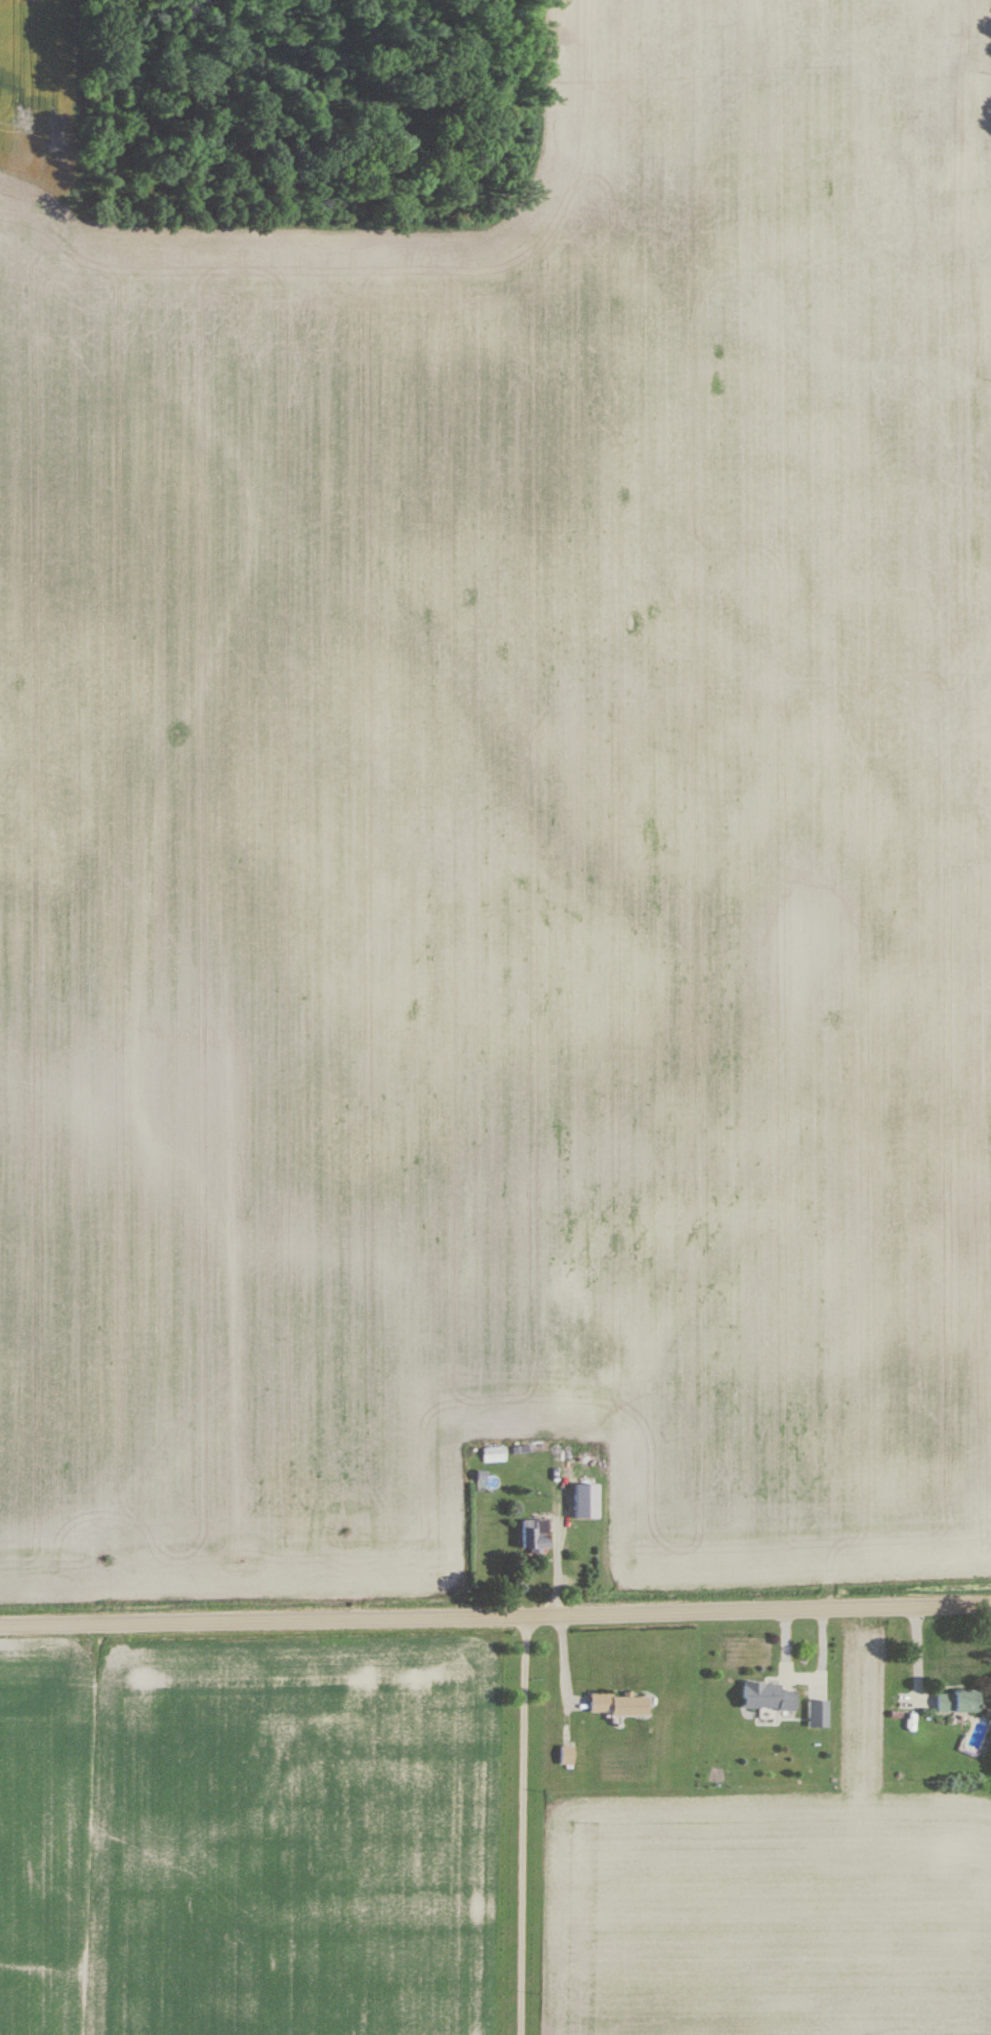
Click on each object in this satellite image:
building: (574, 1310)
building: (494, 1456)
building: (535, 1535)
road: (495, 1612)
building: (767, 1697)
building: (957, 1702)
building: (619, 1706)
building: (818, 1714)
building: (566, 1756)
road: (523, 1823)

